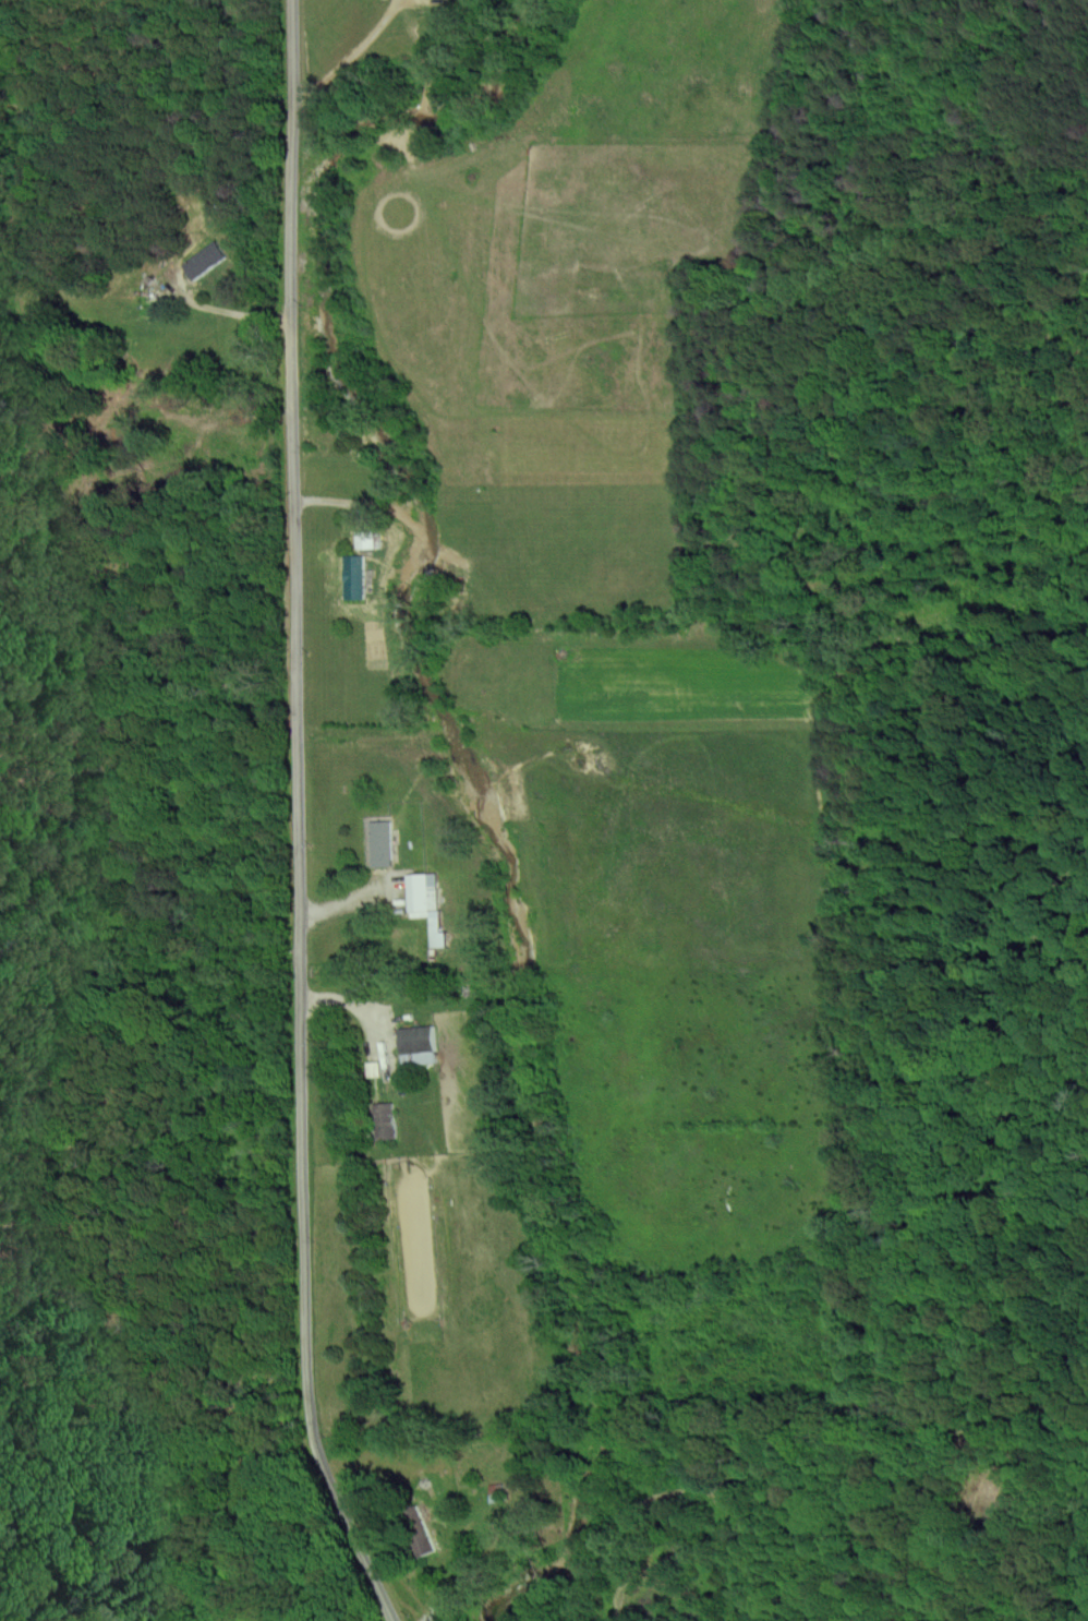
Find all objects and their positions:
building: (206, 261)
building: (365, 539)
building: (355, 577)
road: (302, 818)
building: (383, 842)
building: (428, 905)
building: (422, 1043)
building: (385, 1119)

